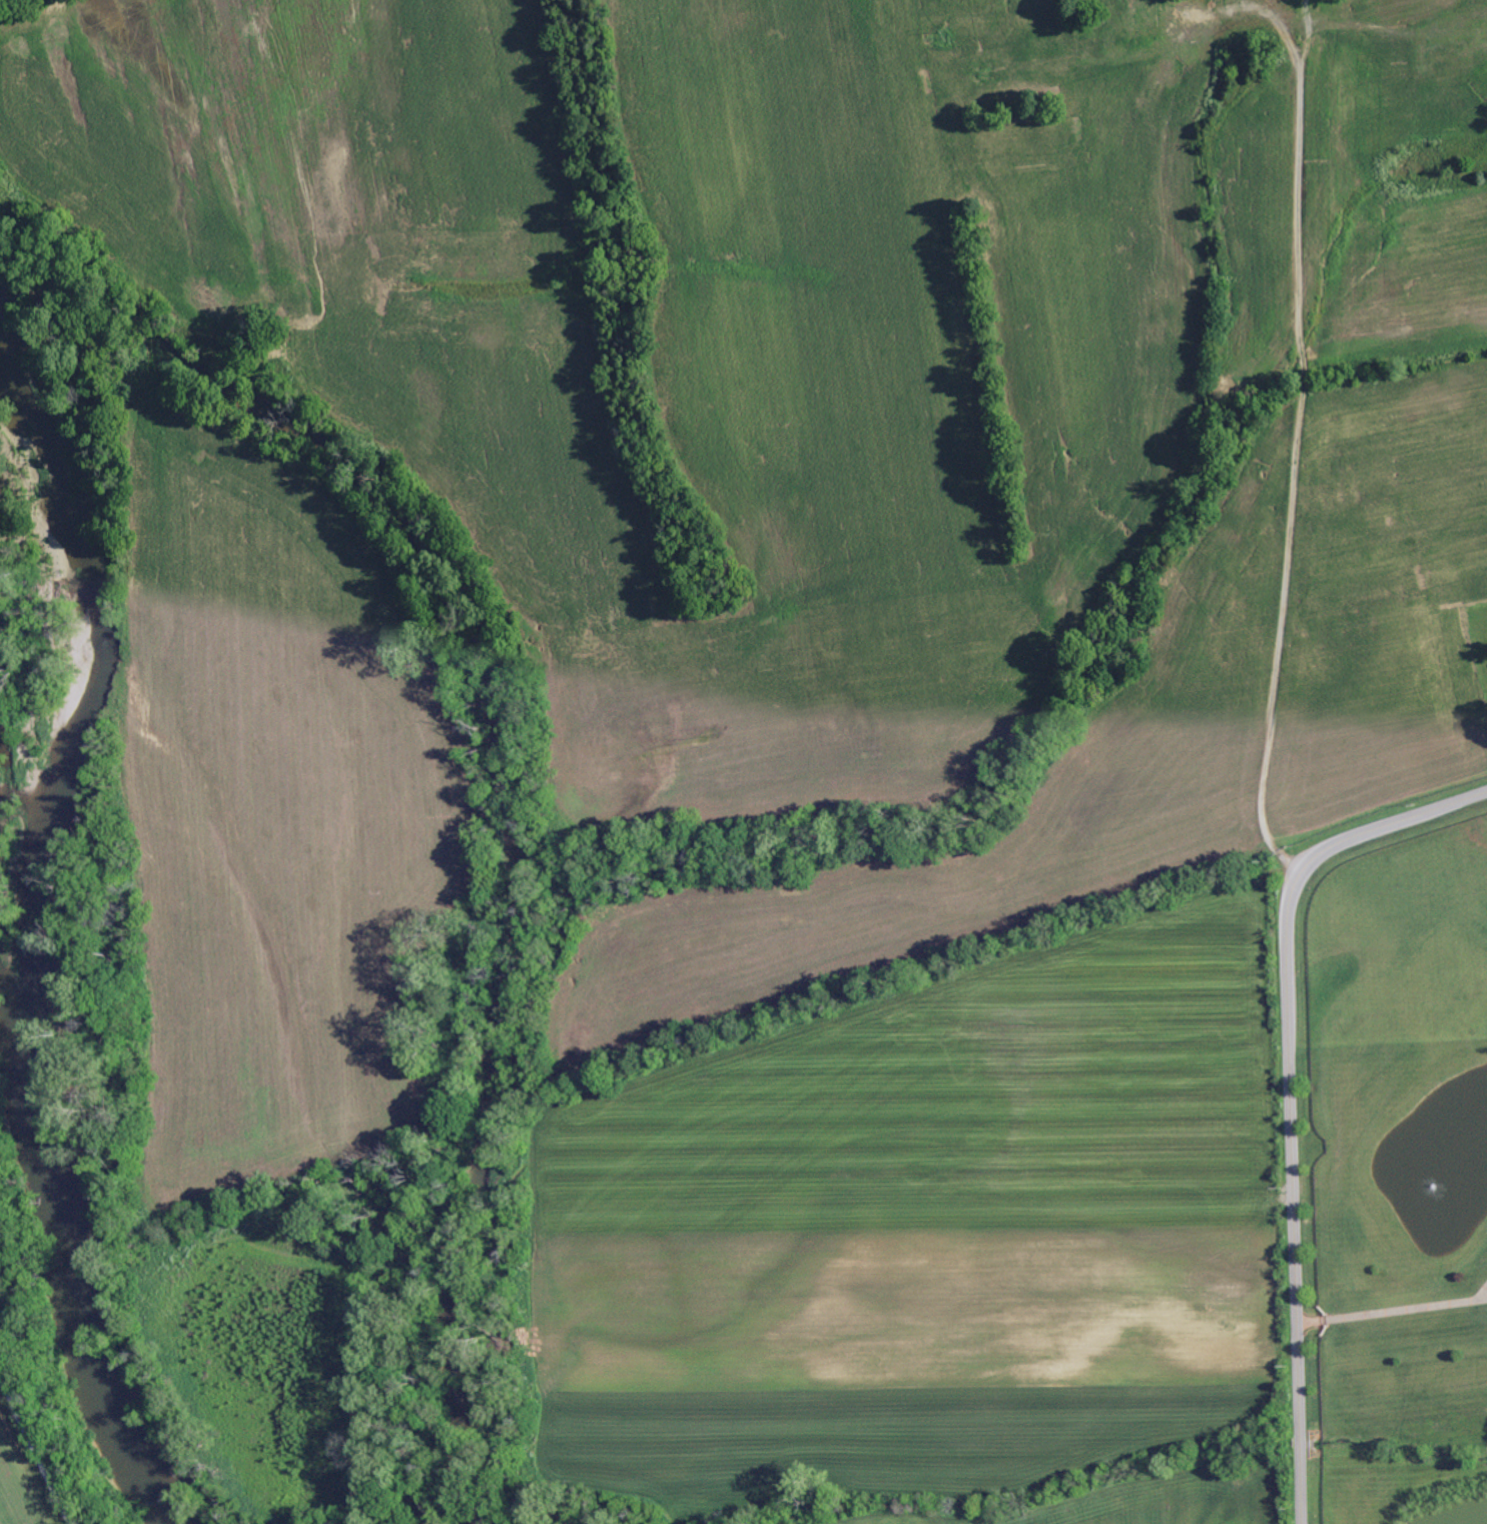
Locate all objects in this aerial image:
park: (39, 43)
building: (1260, 51)
road: (1293, 444)
river: (32, 943)
park: (39, 1084)
road: (1283, 1086)
road: (1393, 1304)
road: (32, 1450)

